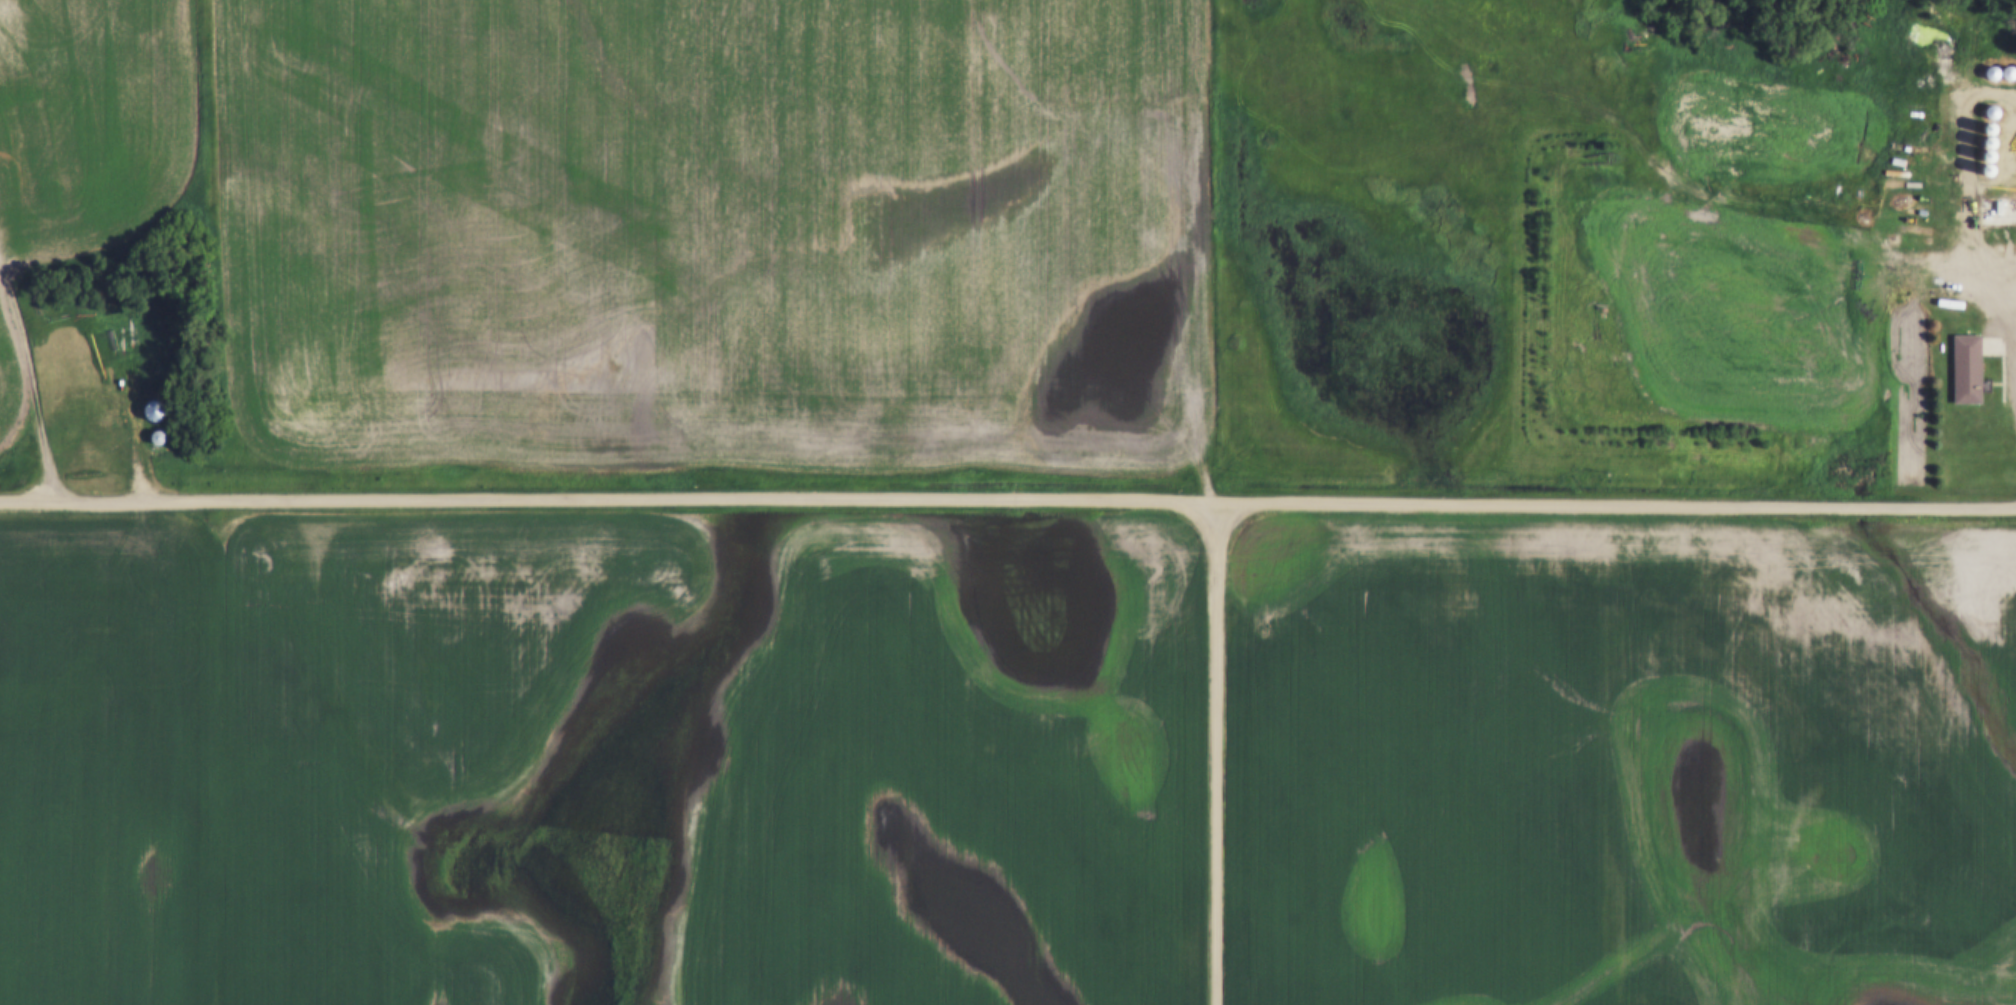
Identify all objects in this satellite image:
building: (1993, 75)
silo: (1993, 75)
building: (2009, 75)
silo: (2009, 75)
building: (1992, 114)
silo: (1992, 114)
building: (1993, 134)
silo: (1993, 134)
building: (1993, 149)
silo: (1993, 149)
building: (1993, 163)
silo: (1993, 163)
building: (1993, 177)
silo: (1993, 177)
building: (1995, 213)
building: (1969, 368)
road: (30, 381)
building: (148, 411)
building: (154, 439)
road: (1008, 500)
road: (1213, 753)

